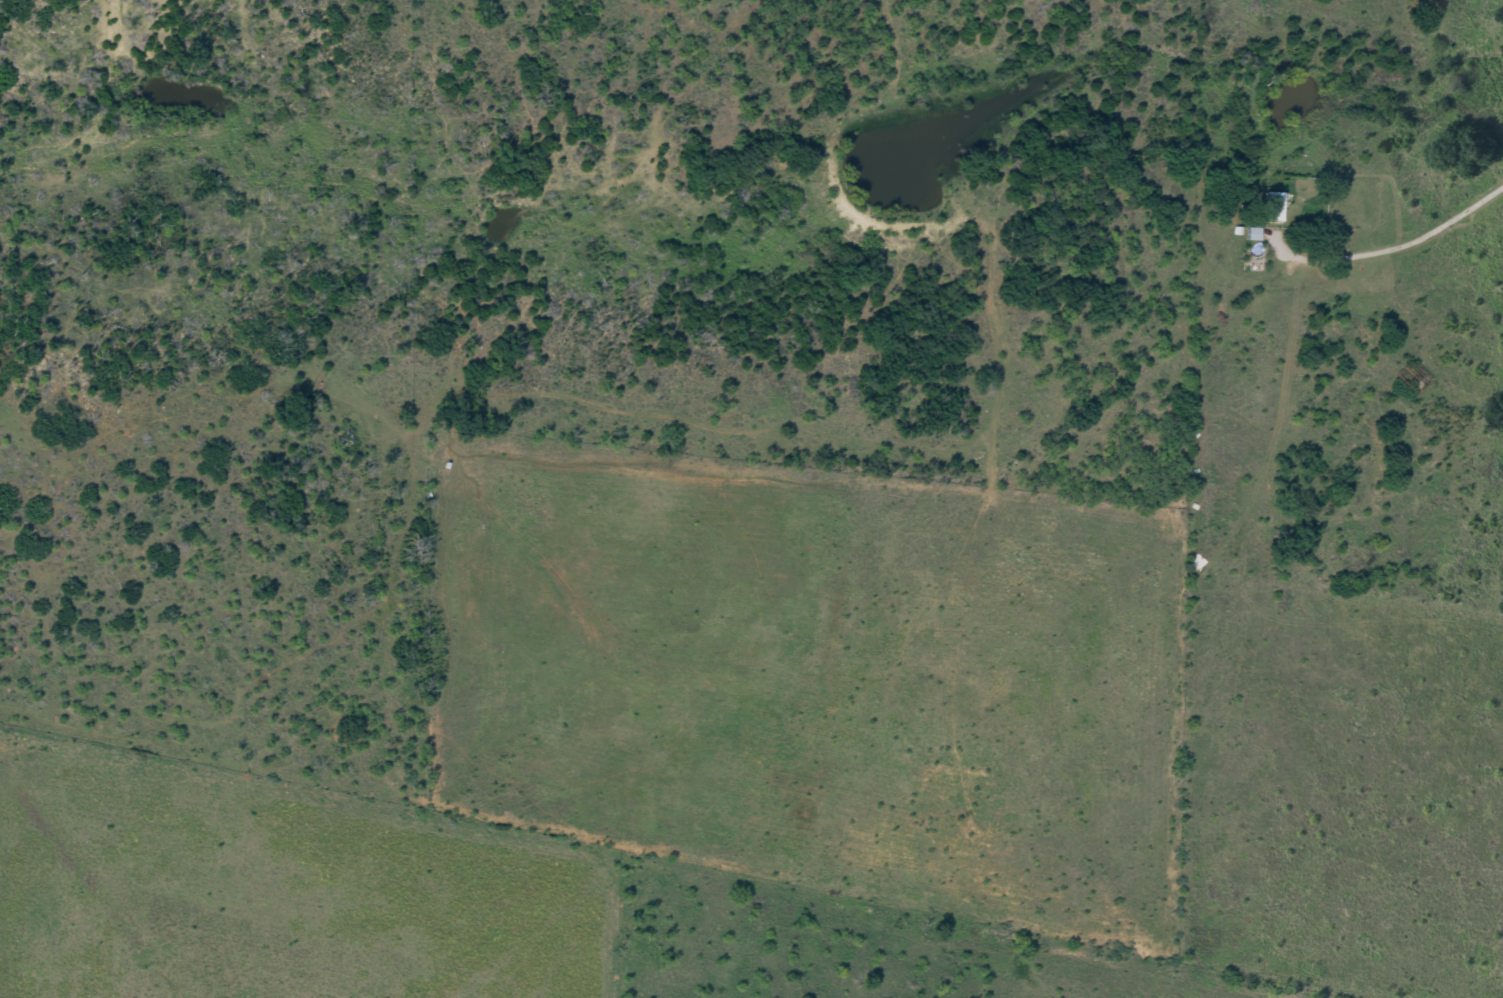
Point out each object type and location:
building: (1272, 210)
building: (1252, 237)
road: (1339, 279)
building: (1411, 379)

